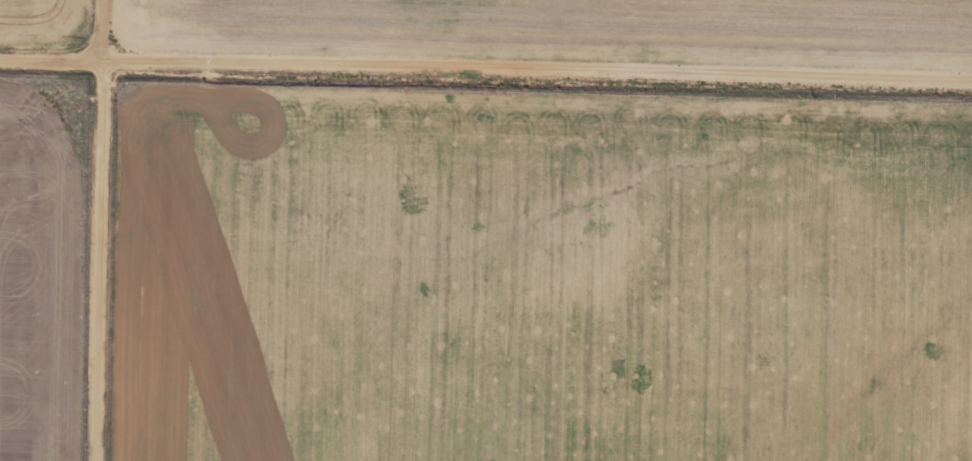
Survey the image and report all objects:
road: (486, 63)
road: (101, 230)

